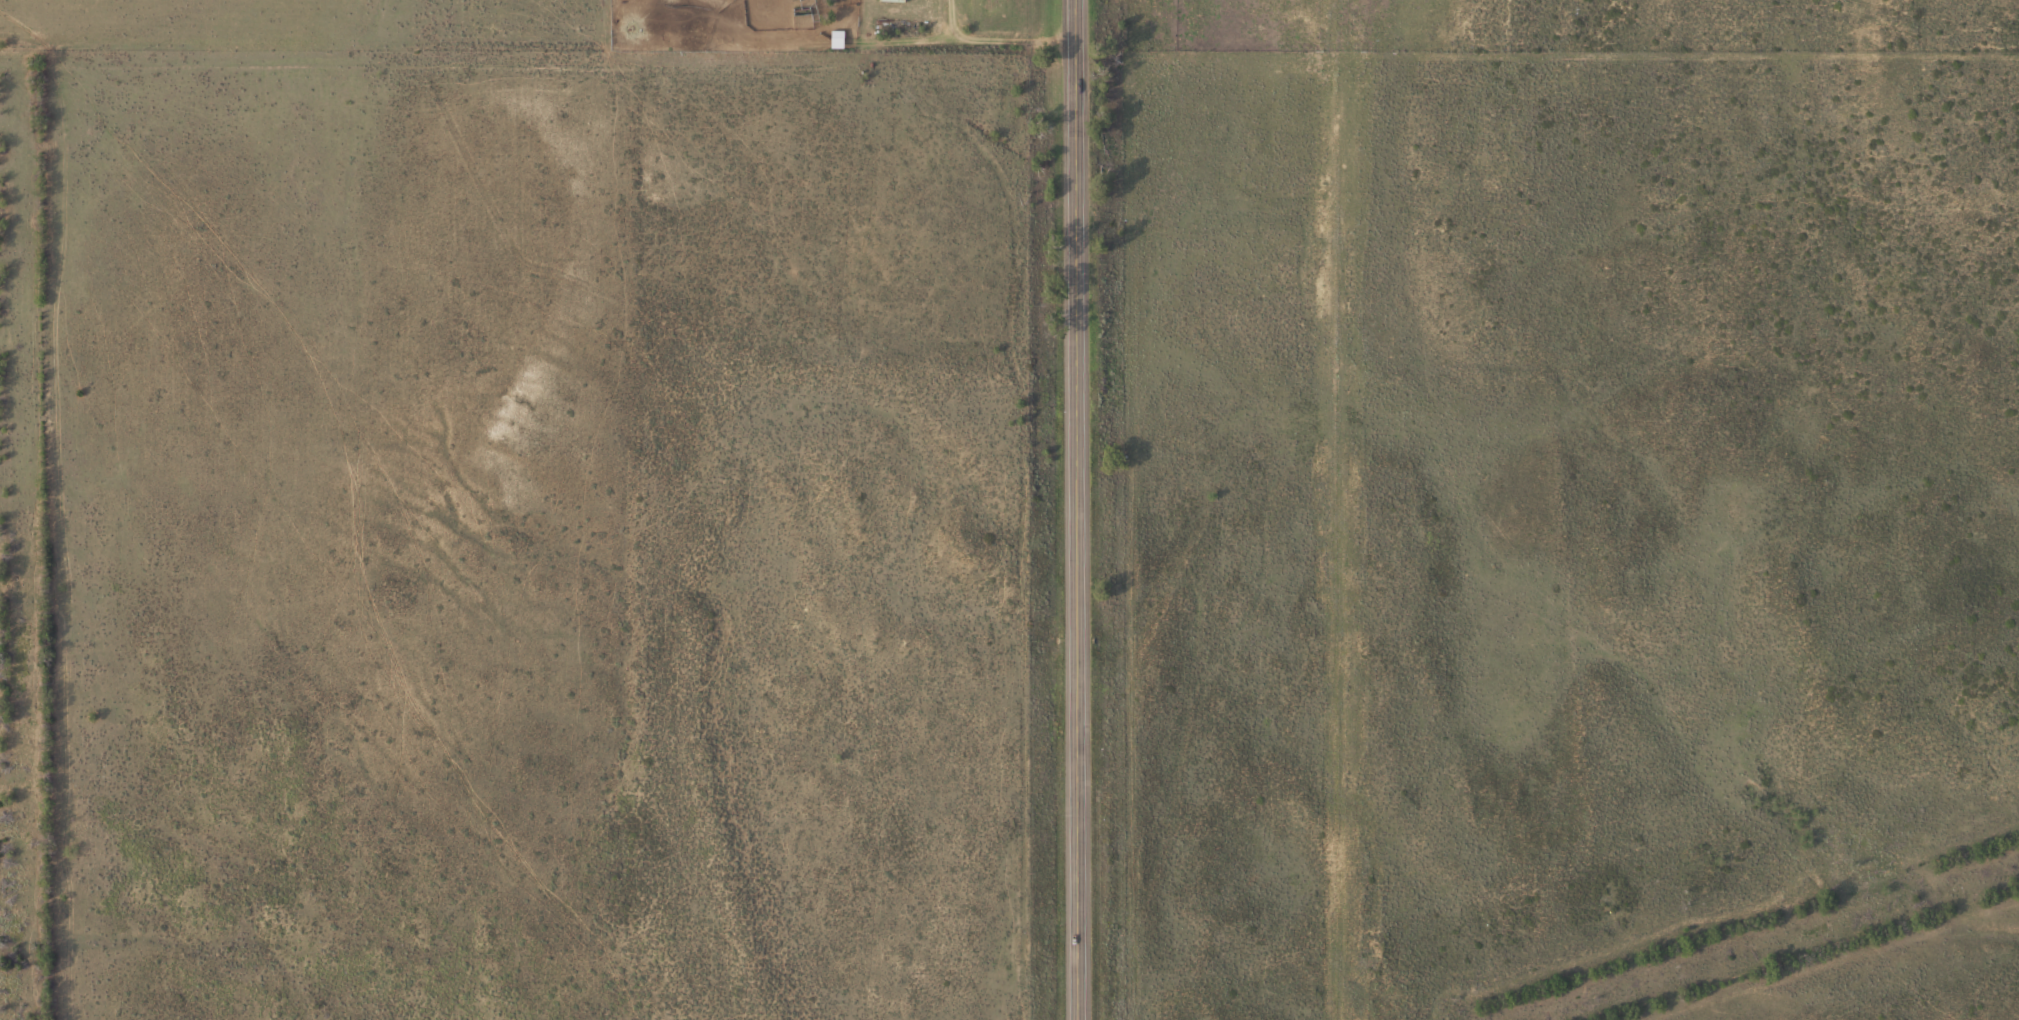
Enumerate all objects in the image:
road: (770, 13)
road: (538, 39)
road: (1079, 509)

